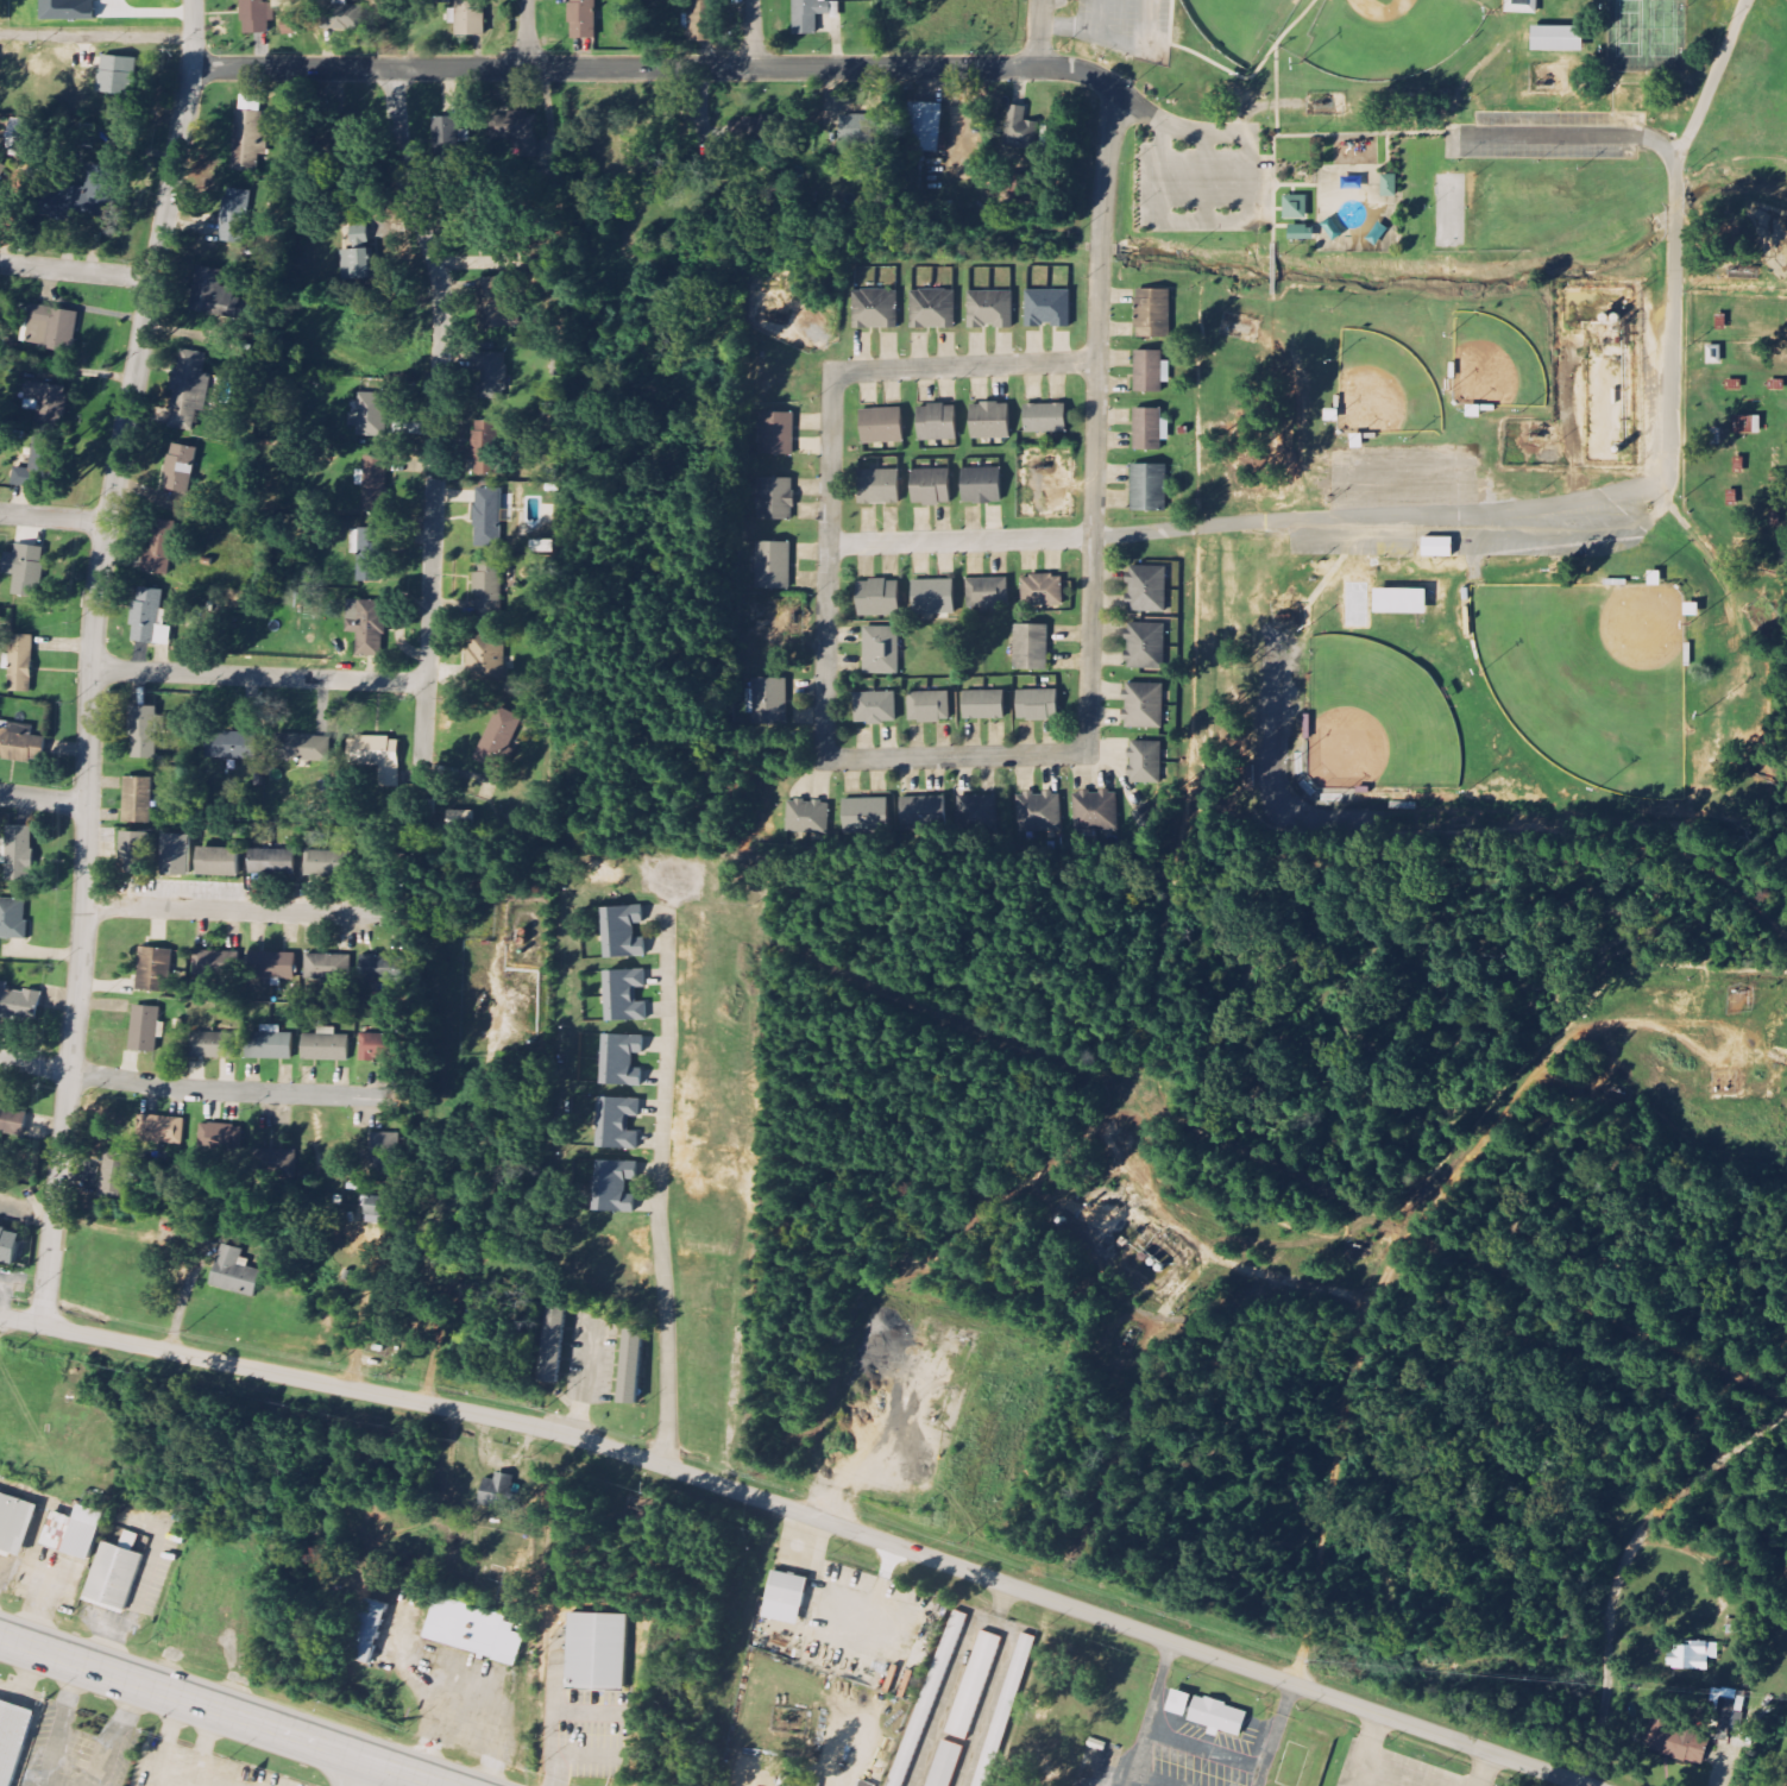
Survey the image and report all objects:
building: (1522, 6)
building: (68, 10)
building: (812, 14)
building: (341, 15)
building: (256, 17)
building: (468, 17)
road: (1099, 18)
building: (583, 19)
park: (1239, 24)
road: (1038, 33)
road: (527, 34)
road: (753, 34)
park: (1648, 34)
park: (1393, 36)
building: (1559, 38)
road: (96, 39)
road: (1118, 42)
road: (654, 69)
building: (118, 75)
building: (518, 126)
building: (926, 127)
road: (1175, 127)
building: (1021, 128)
building: (250, 130)
building: (21, 133)
road: (1308, 133)
building: (861, 134)
building: (87, 136)
building: (446, 137)
road: (1568, 137)
road: (1207, 177)
road: (1283, 183)
building: (1390, 185)
building: (82, 199)
park: (1452, 210)
building: (234, 216)
road: (1201, 221)
building: (357, 257)
road: (1273, 268)
road: (76, 271)
building: (209, 290)
building: (495, 306)
building: (933, 308)
building: (1049, 308)
building: (875, 309)
building: (990, 309)
building: (1153, 313)
building: (52, 328)
road: (1291, 352)
park: (1496, 364)
road: (964, 366)
building: (1151, 371)
building: (491, 373)
park: (1385, 386)
building: (188, 389)
building: (46, 400)
road: (435, 414)
building: (371, 415)
park: (1470, 415)
building: (1045, 417)
road: (1095, 420)
building: (989, 421)
building: (937, 423)
building: (1748, 425)
building: (882, 426)
building: (1150, 429)
building: (776, 434)
building: (485, 447)
building: (180, 468)
building: (36, 471)
building: (376, 483)
building: (982, 485)
building: (879, 486)
building: (931, 488)
building: (1149, 488)
road: (1625, 493)
building: (775, 499)
building: (491, 515)
road: (52, 517)
road: (959, 541)
building: (1439, 547)
building: (161, 548)
building: (367, 553)
road: (826, 565)
building: (774, 566)
building: (25, 570)
building: (1147, 589)
building: (1043, 591)
building: (487, 592)
building: (988, 592)
building: (933, 597)
building: (879, 598)
building: (1401, 602)
building: (150, 618)
building: (366, 625)
building: (1145, 646)
building: (1031, 647)
building: (881, 650)
building: (486, 655)
road: (90, 659)
building: (21, 664)
road: (257, 677)
park: (1592, 678)
building: (772, 702)
building: (983, 704)
building: (1037, 705)
building: (876, 708)
building: (930, 708)
building: (1146, 708)
park: (1377, 719)
building: (143, 731)
building: (498, 737)
building: (15, 741)
building: (232, 746)
building: (302, 748)
building: (378, 756)
road: (955, 756)
building: (1145, 761)
road: (43, 799)
building: (137, 799)
building: (924, 810)
building: (1096, 810)
building: (864, 811)
building: (979, 811)
building: (1038, 811)
building: (807, 816)
building: (460, 817)
building: (136, 851)
building: (19, 853)
building: (177, 855)
building: (219, 861)
building: (273, 862)
building: (328, 862)
road: (246, 912)
building: (13, 918)
building: (622, 931)
building: (216, 962)
building: (271, 964)
building: (327, 966)
building: (373, 967)
building: (155, 969)
building: (625, 995)
building: (19, 1000)
building: (145, 1027)
building: (269, 1043)
building: (212, 1044)
building: (326, 1045)
building: (373, 1046)
building: (622, 1059)
road: (195, 1090)
building: (12, 1120)
building: (618, 1122)
building: (161, 1128)
building: (220, 1137)
building: (384, 1153)
building: (282, 1164)
road: (660, 1169)
building: (113, 1177)
building: (615, 1186)
building: (373, 1209)
building: (8, 1244)
building: (234, 1272)
power tower: (27, 1297)
power tower: (188, 1331)
building: (553, 1344)
road: (1361, 1361)
building: (630, 1366)
power tower: (394, 1375)
power tower: (550, 1408)
power tower: (759, 1476)
building: (499, 1492)
road: (801, 1514)
building: (15, 1523)
building: (75, 1530)
power tower: (961, 1543)
building: (114, 1573)
road: (141, 1581)
building: (788, 1587)
road: (45, 1593)
power tower: (1173, 1616)
building: (464, 1625)
building: (369, 1629)
road: (106, 1647)
building: (596, 1649)
building: (1694, 1655)
power tower: (1321, 1667)
road: (956, 1672)
power tower: (1539, 1680)
road: (25, 1683)
building: (974, 1685)
building: (927, 1697)
road: (989, 1699)
building: (1179, 1704)
building: (1731, 1708)
building: (1003, 1710)
road: (220, 1711)
building: (1217, 1715)
road: (1149, 1717)
building: (12, 1738)
building: (1678, 1742)
road: (205, 1744)
road: (1204, 1749)
road: (1365, 1749)
parking lot: (1196, 1754)
road: (159, 1762)
building: (945, 1763)
parking lot: (1100, 1763)
road: (1483, 1769)
road: (350, 1771)
road: (1399, 1773)
road: (1154, 1778)
building: (797, 1782)
building: (858, 1785)

